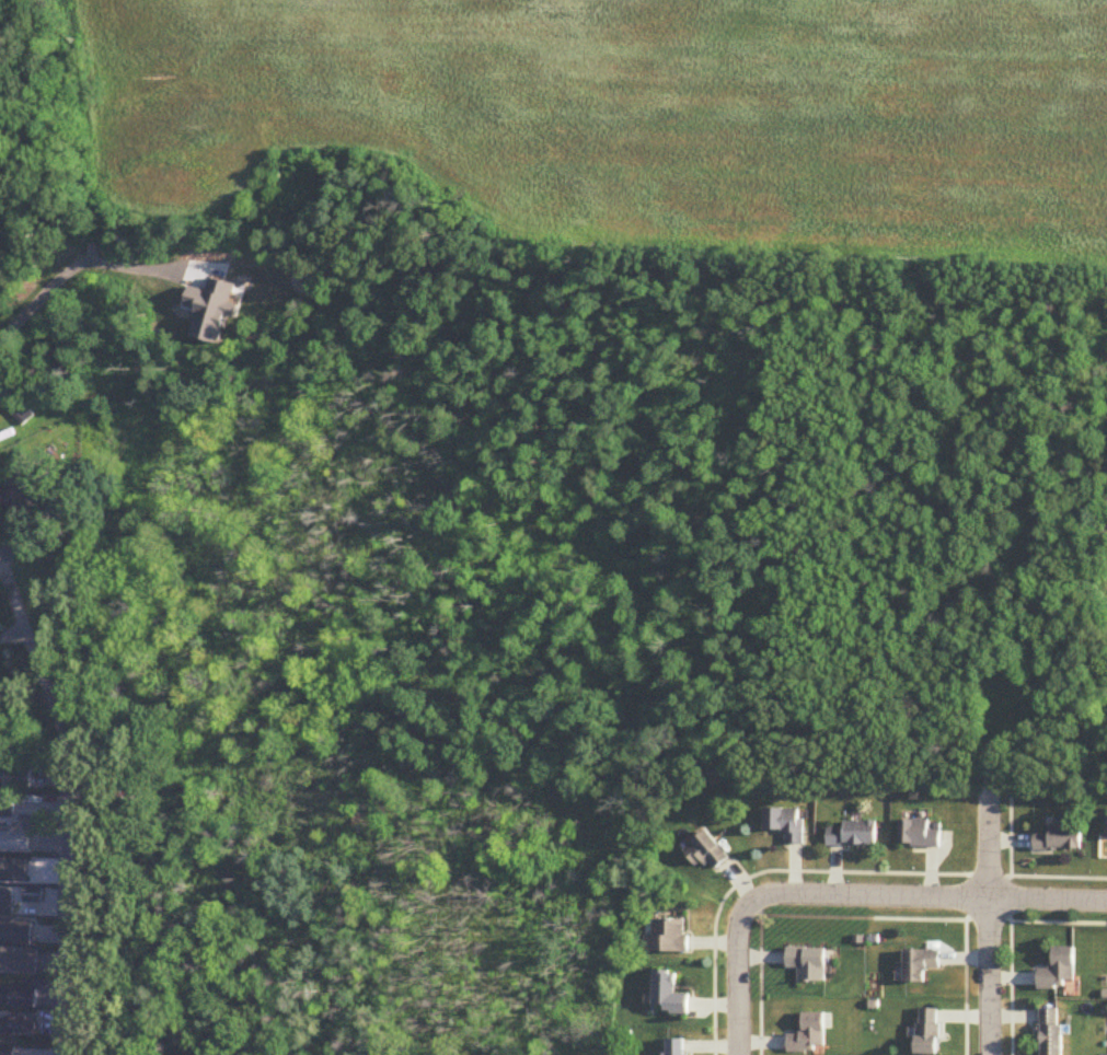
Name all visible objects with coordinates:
road: (73, 267)
building: (21, 498)
building: (21, 782)
road: (68, 803)
building: (7, 808)
building: (1106, 824)
building: (786, 825)
building: (852, 836)
building: (919, 836)
building: (1059, 842)
building: (15, 843)
building: (707, 853)
building: (7, 904)
road: (932, 909)
road: (992, 919)
building: (15, 932)
building: (669, 938)
building: (20, 961)
building: (808, 965)
building: (920, 966)
building: (1059, 972)
road: (752, 993)
building: (670, 996)
building: (19, 998)
building: (18, 1027)
building: (927, 1032)
building: (1050, 1032)
building: (809, 1036)
building: (679, 1047)
building: (8, 1048)

